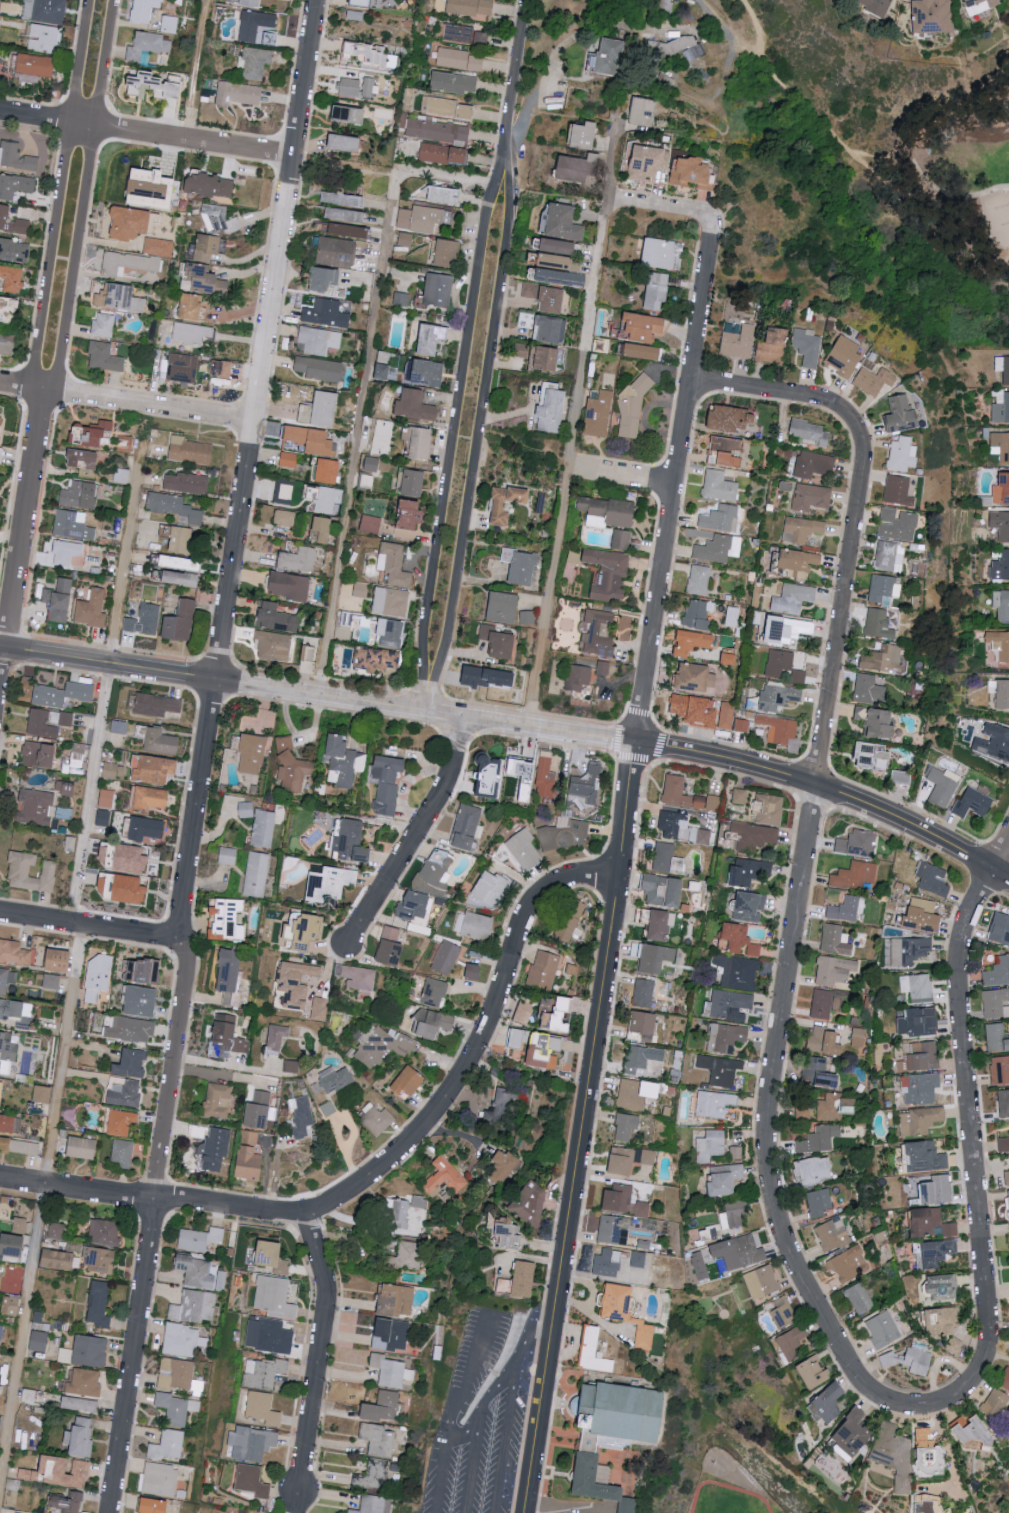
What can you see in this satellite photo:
building: (251, 2)
building: (365, 2)
building: (876, 5)
building: (973, 5)
building: (471, 7)
building: (46, 10)
building: (144, 10)
building: (929, 15)
building: (169, 23)
building: (258, 27)
building: (458, 33)
building: (44, 38)
building: (147, 44)
building: (682, 44)
road: (560, 48)
building: (606, 56)
building: (459, 59)
building: (256, 62)
road: (195, 69)
road: (69, 82)
building: (454, 82)
building: (154, 84)
building: (357, 86)
road: (518, 92)
building: (239, 93)
building: (448, 107)
road: (805, 109)
building: (643, 111)
road: (949, 111)
building: (352, 113)
building: (437, 131)
road: (145, 133)
building: (582, 135)
building: (349, 141)
building: (444, 153)
building: (16, 156)
building: (650, 161)
park: (870, 162)
building: (576, 168)
building: (691, 170)
building: (152, 182)
building: (211, 184)
building: (15, 185)
road: (60, 194)
building: (445, 194)
road: (83, 196)
road: (957, 196)
building: (343, 198)
building: (151, 200)
road: (664, 211)
building: (346, 214)
building: (3, 215)
building: (215, 216)
building: (132, 222)
building: (563, 222)
building: (20, 226)
building: (349, 229)
road: (923, 229)
building: (406, 239)
building: (158, 246)
building: (208, 246)
building: (557, 246)
building: (14, 250)
building: (337, 251)
building: (446, 253)
building: (660, 253)
building: (128, 262)
building: (560, 262)
building: (561, 277)
building: (12, 278)
building: (323, 278)
building: (205, 279)
building: (438, 289)
building: (529, 289)
building: (657, 289)
building: (120, 297)
building: (401, 298)
building: (551, 300)
building: (192, 305)
building: (10, 308)
building: (326, 313)
building: (525, 319)
building: (104, 324)
building: (644, 326)
building: (550, 329)
building: (191, 333)
building: (431, 338)
road: (265, 340)
building: (319, 340)
building: (740, 342)
building: (6, 344)
building: (808, 346)
building: (775, 347)
building: (521, 349)
building: (644, 351)
building: (104, 357)
building: (846, 357)
building: (548, 358)
building: (183, 367)
building: (1003, 367)
building: (225, 368)
building: (320, 368)
building: (382, 371)
building: (428, 372)
building: (874, 380)
road: (365, 381)
road: (127, 401)
building: (414, 405)
building: (550, 407)
building: (633, 408)
building: (320, 409)
building: (1001, 410)
building: (599, 414)
building: (900, 414)
building: (732, 418)
road: (577, 427)
building: (1, 429)
road: (455, 429)
building: (811, 431)
building: (94, 433)
road: (474, 435)
building: (310, 439)
building: (422, 442)
building: (1000, 445)
building: (191, 450)
building: (727, 450)
building: (902, 454)
building: (84, 458)
building: (288, 459)
building: (371, 463)
building: (815, 464)
building: (328, 470)
road: (14, 477)
road: (626, 477)
building: (187, 482)
building: (414, 482)
building: (720, 486)
building: (898, 490)
building: (1001, 490)
building: (81, 494)
building: (812, 497)
building: (325, 499)
building: (174, 506)
building: (498, 507)
building: (608, 511)
building: (413, 514)
building: (285, 517)
building: (721, 518)
building: (371, 523)
building: (1000, 523)
building: (897, 524)
building: (73, 525)
road: (21, 527)
building: (803, 529)
building: (179, 537)
building: (622, 539)
building: (719, 548)
building: (66, 552)
road: (125, 554)
building: (889, 556)
building: (299, 559)
building: (176, 561)
building: (800, 562)
building: (394, 564)
building: (521, 565)
building: (1001, 567)
building: (609, 573)
building: (182, 578)
building: (699, 580)
building: (289, 585)
building: (360, 589)
building: (884, 589)
building: (794, 598)
building: (59, 600)
building: (391, 601)
building: (1001, 603)
building: (504, 607)
building: (92, 609)
building: (697, 612)
building: (277, 617)
building: (528, 617)
building: (144, 619)
building: (181, 620)
building: (880, 623)
building: (789, 628)
building: (389, 632)
building: (600, 633)
building: (693, 642)
building: (503, 644)
building: (999, 644)
building: (274, 645)
building: (376, 658)
building: (884, 658)
building: (730, 659)
road: (107, 663)
building: (784, 665)
building: (489, 677)
building: (579, 677)
building: (697, 678)
building: (869, 688)
building: (1002, 692)
building: (62, 694)
road: (424, 695)
building: (778, 696)
building: (158, 704)
building: (695, 709)
building: (726, 715)
building: (878, 721)
building: (48, 722)
building: (742, 725)
building: (779, 728)
road: (624, 739)
building: (161, 741)
building: (994, 741)
building: (40, 754)
building: (251, 754)
building: (873, 755)
building: (342, 760)
building: (292, 765)
building: (157, 769)
building: (526, 770)
building: (114, 771)
building: (489, 776)
building: (547, 777)
building: (902, 777)
building: (388, 782)
building: (588, 784)
building: (943, 785)
building: (66, 788)
building: (681, 793)
road: (91, 795)
building: (739, 795)
building: (106, 798)
building: (151, 798)
building: (975, 801)
building: (713, 802)
building: (35, 806)
building: (768, 808)
building: (103, 818)
road: (809, 820)
building: (467, 825)
building: (681, 827)
building: (147, 828)
building: (263, 828)
road: (414, 831)
building: (564, 834)
building: (755, 835)
building: (351, 841)
building: (858, 843)
building: (524, 849)
building: (228, 855)
building: (132, 859)
road: (619, 865)
building: (19, 871)
building: (436, 871)
building: (747, 871)
building: (256, 874)
building: (855, 875)
building: (933, 878)
building: (331, 883)
building: (490, 887)
building: (131, 889)
building: (664, 890)
building: (749, 906)
building: (416, 907)
building: (847, 909)
building: (925, 914)
building: (227, 918)
building: (567, 923)
building: (476, 925)
building: (661, 925)
road: (87, 928)
building: (308, 929)
building: (997, 929)
building: (741, 939)
building: (836, 940)
building: (392, 946)
building: (910, 950)
building: (15, 953)
building: (447, 956)
building: (652, 957)
building: (61, 960)
building: (544, 969)
building: (142, 970)
building: (836, 971)
building: (996, 971)
building: (476, 972)
building: (744, 974)
building: (229, 976)
building: (358, 976)
building: (98, 977)
building: (7, 979)
building: (52, 981)
building: (297, 983)
building: (917, 985)
building: (435, 992)
building: (644, 992)
building: (841, 999)
building: (141, 1000)
building: (822, 1003)
building: (994, 1003)
building: (732, 1005)
building: (320, 1008)
building: (13, 1011)
building: (556, 1013)
building: (917, 1022)
building: (434, 1023)
building: (646, 1025)
building: (131, 1029)
building: (229, 1034)
building: (278, 1036)
building: (729, 1037)
building: (859, 1037)
building: (518, 1038)
building: (995, 1038)
building: (826, 1041)
building: (382, 1045)
building: (546, 1050)
building: (7, 1051)
building: (924, 1056)
building: (132, 1063)
road: (227, 1064)
building: (292, 1066)
building: (721, 1069)
building: (998, 1070)
building: (819, 1073)
road: (222, 1075)
building: (337, 1079)
building: (409, 1082)
building: (920, 1088)
building: (1, 1092)
building: (126, 1093)
building: (42, 1094)
road: (169, 1094)
building: (632, 1095)
building: (218, 1100)
building: (1002, 1103)
building: (716, 1104)
building: (835, 1106)
building: (500, 1108)
building: (260, 1109)
building: (804, 1110)
building: (302, 1116)
building: (377, 1119)
building: (921, 1120)
building: (8, 1122)
building: (122, 1122)
building: (1008, 1124)
building: (627, 1126)
building: (815, 1140)
building: (1001, 1144)
building: (711, 1145)
building: (19, 1146)
building: (82, 1147)
building: (214, 1150)
building: (123, 1152)
building: (736, 1152)
building: (249, 1157)
building: (926, 1157)
building: (630, 1159)
building: (502, 1168)
road: (385, 1169)
building: (813, 1170)
road: (975, 1173)
building: (445, 1176)
building: (1004, 1178)
building: (726, 1179)
building: (936, 1191)
building: (624, 1200)
building: (531, 1202)
building: (819, 1202)
road: (40, 1203)
building: (1006, 1203)
building: (400, 1214)
building: (735, 1214)
building: (928, 1222)
building: (20, 1224)
building: (612, 1229)
building: (56, 1230)
building: (105, 1232)
building: (1008, 1233)
building: (833, 1234)
building: (511, 1235)
building: (200, 1238)
building: (14, 1245)
building: (743, 1251)
building: (939, 1252)
building: (409, 1254)
building: (274, 1258)
building: (59, 1259)
building: (638, 1259)
building: (100, 1260)
building: (607, 1262)
building: (849, 1264)
building: (197, 1272)
building: (524, 1279)
building: (762, 1281)
building: (505, 1285)
building: (945, 1288)
building: (274, 1297)
building: (859, 1298)
building: (397, 1300)
building: (99, 1304)
building: (13, 1305)
building: (193, 1306)
building: (783, 1312)
building: (628, 1314)
building: (945, 1326)
building: (883, 1329)
building: (393, 1333)
building: (269, 1336)
building: (182, 1340)
building: (39, 1341)
building: (790, 1341)
road: (538, 1344)
road: (523, 1349)
building: (91, 1351)
building: (594, 1351)
building: (910, 1359)
road: (318, 1362)
building: (391, 1371)
building: (176, 1373)
building: (264, 1373)
building: (815, 1373)
road: (470, 1376)
building: (1003, 1379)
road: (517, 1381)
building: (85, 1383)
road: (502, 1385)
building: (832, 1401)
building: (995, 1403)
building: (81, 1404)
building: (177, 1408)
building: (263, 1408)
building: (385, 1408)
parking lot: (483, 1415)
building: (620, 1415)
building: (1, 1425)
building: (982, 1431)
building: (856, 1434)
road: (458, 1435)
building: (926, 1436)
building: (81, 1437)
building: (378, 1439)
road: (505, 1442)
building: (253, 1443)
building: (168, 1445)
road: (946, 1448)
road: (489, 1454)
road: (471, 1468)
building: (60, 1471)
building: (373, 1476)
building: (160, 1479)
road: (455, 1479)
building: (253, 1481)
building: (600, 1483)
track: (755, 1496)
building: (69, 1502)
track: (726, 1502)
building: (370, 1504)
building: (156, 1506)
road: (565, 1507)
park: (724, 1507)
building: (17, 1512)

